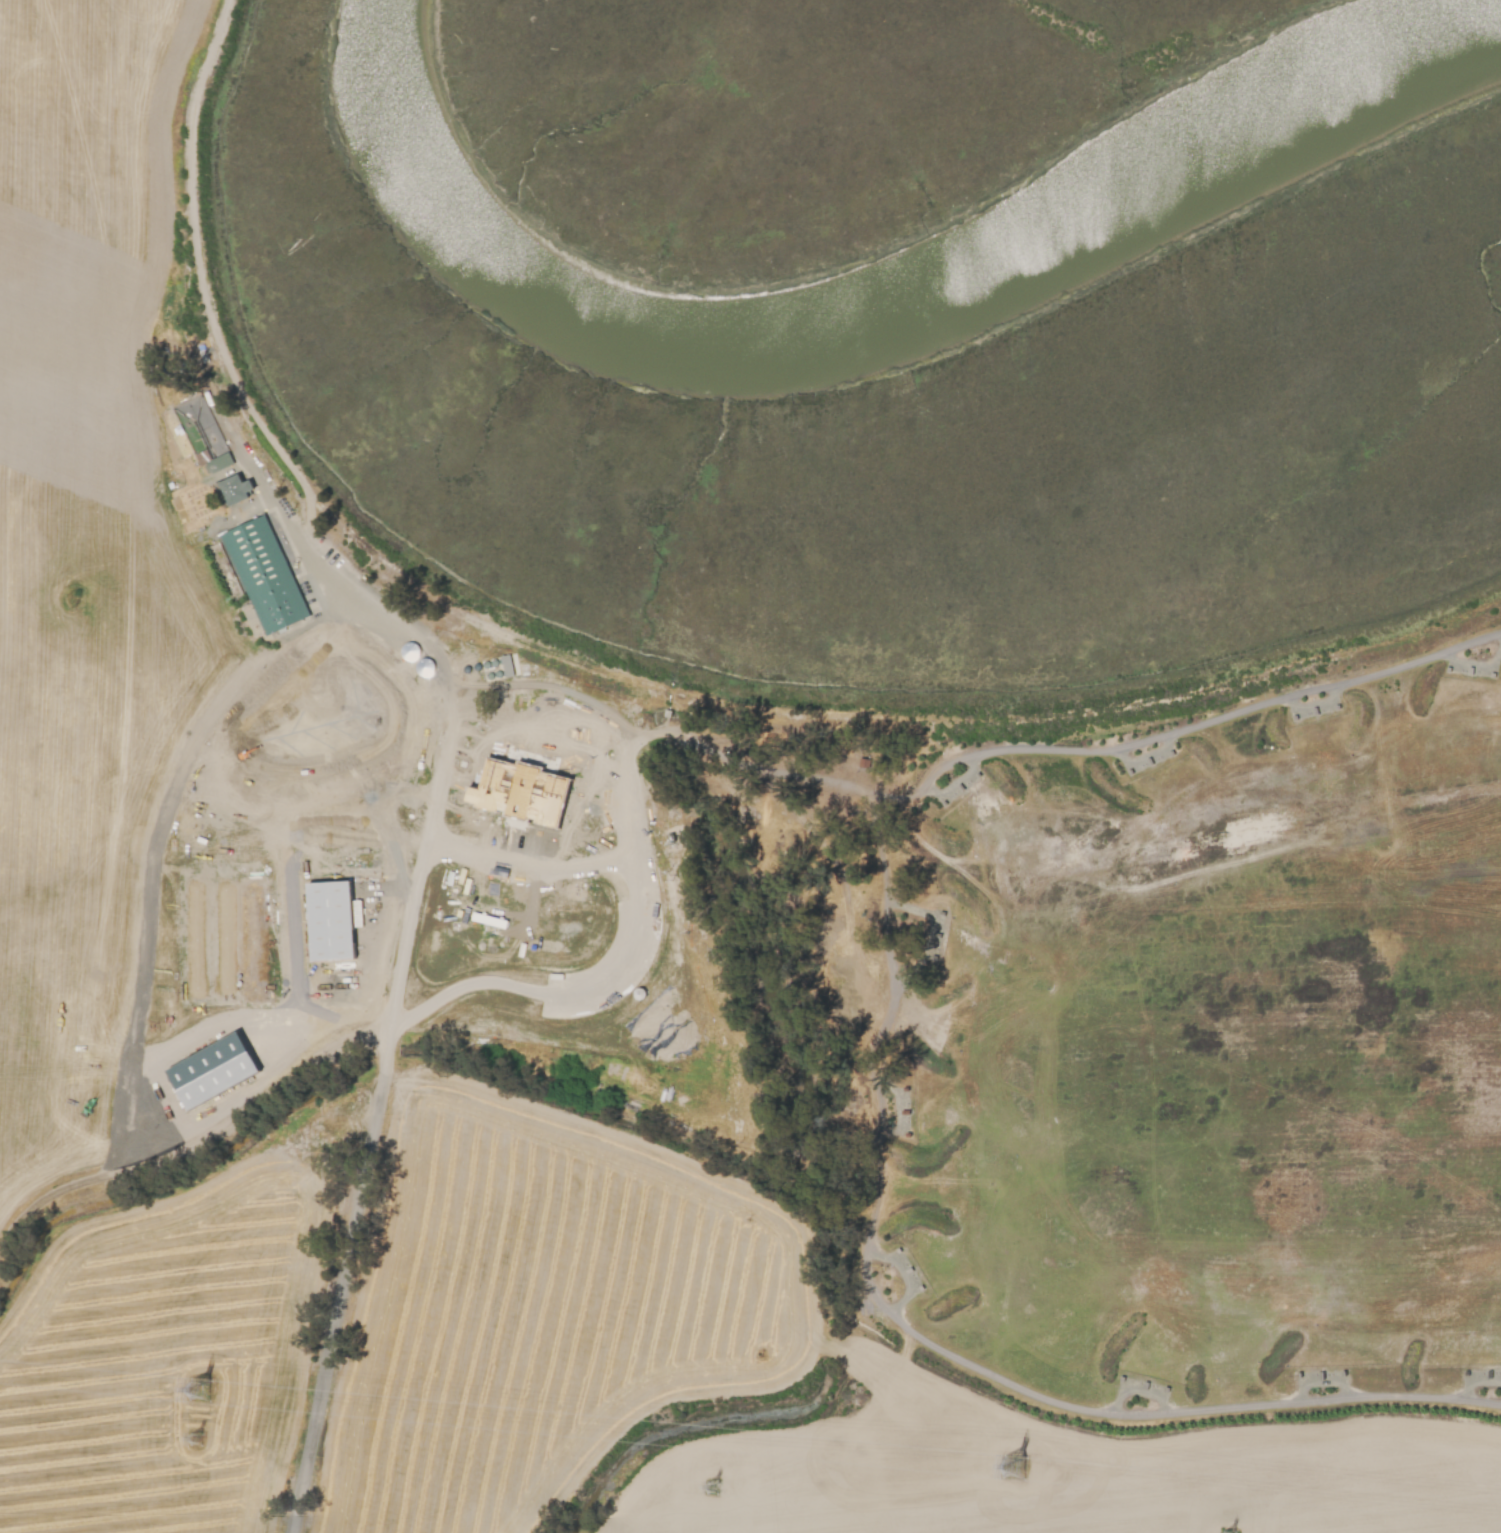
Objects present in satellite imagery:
building: (242, 470)
road: (304, 491)
building: (283, 573)
building: (507, 665)
building: (321, 720)
road: (1202, 722)
building: (383, 738)
road: (621, 764)
road: (953, 783)
building: (571, 872)
road: (151, 890)
road: (913, 909)
building: (334, 917)
road: (296, 982)
road: (552, 998)
building: (596, 1078)
road: (348, 1232)
road: (924, 1334)
power tower: (202, 1392)
power tower: (197, 1442)
power tower: (1011, 1475)
power tower: (721, 1493)

